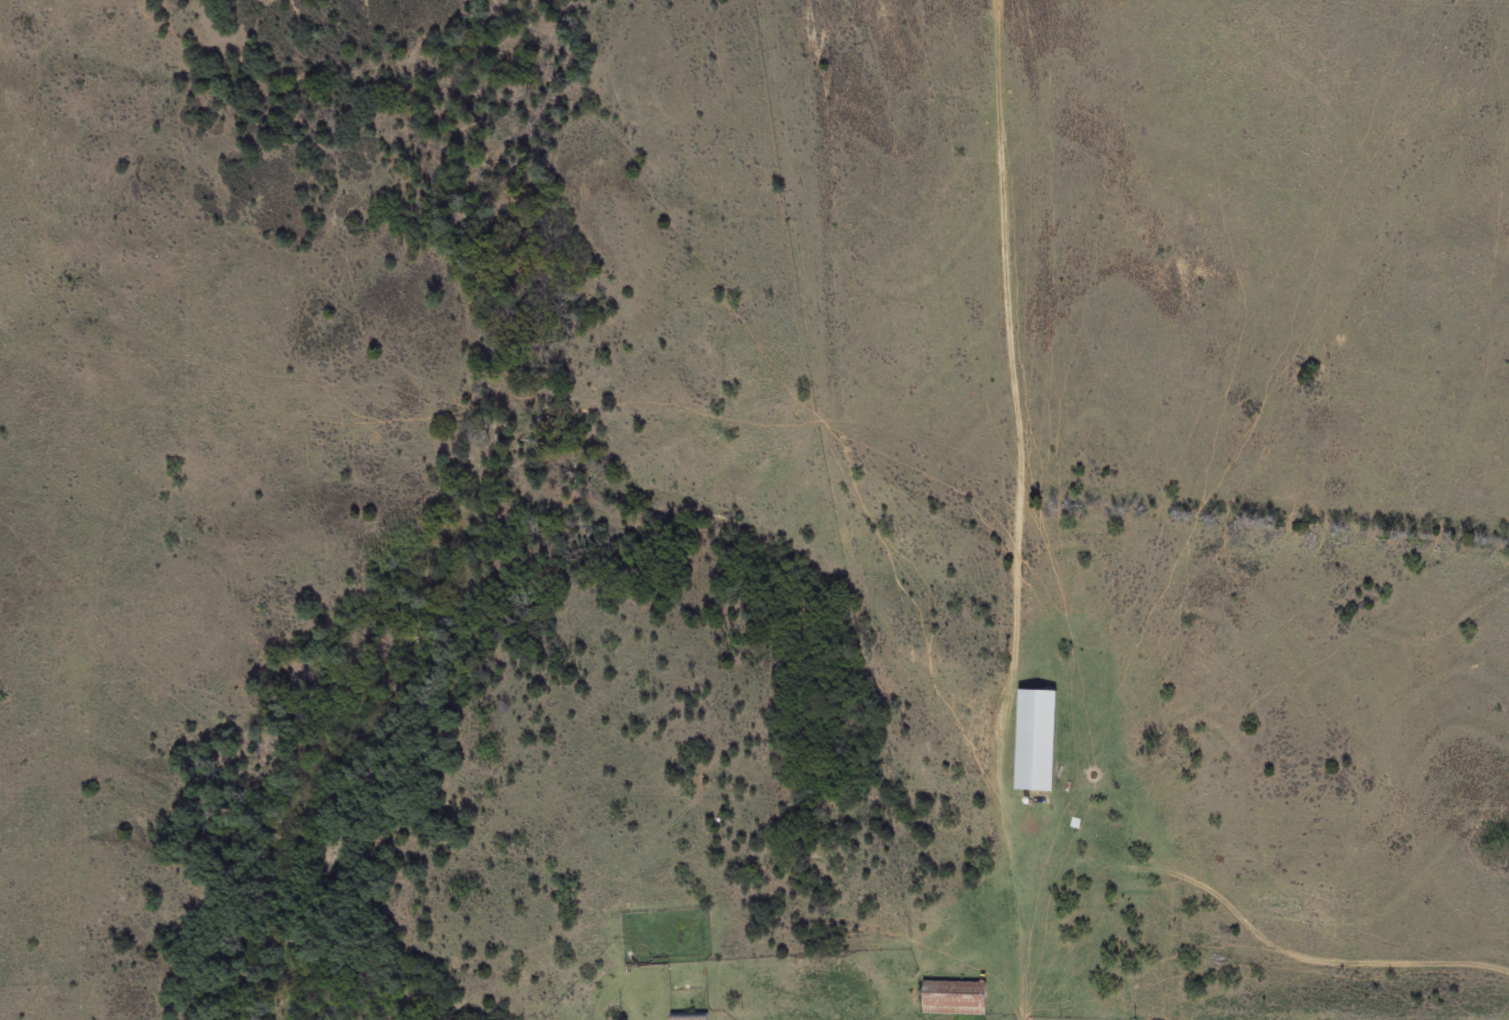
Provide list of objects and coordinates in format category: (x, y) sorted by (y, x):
road: (704, 510)
building: (1037, 743)
building: (955, 999)
building: (690, 1017)

